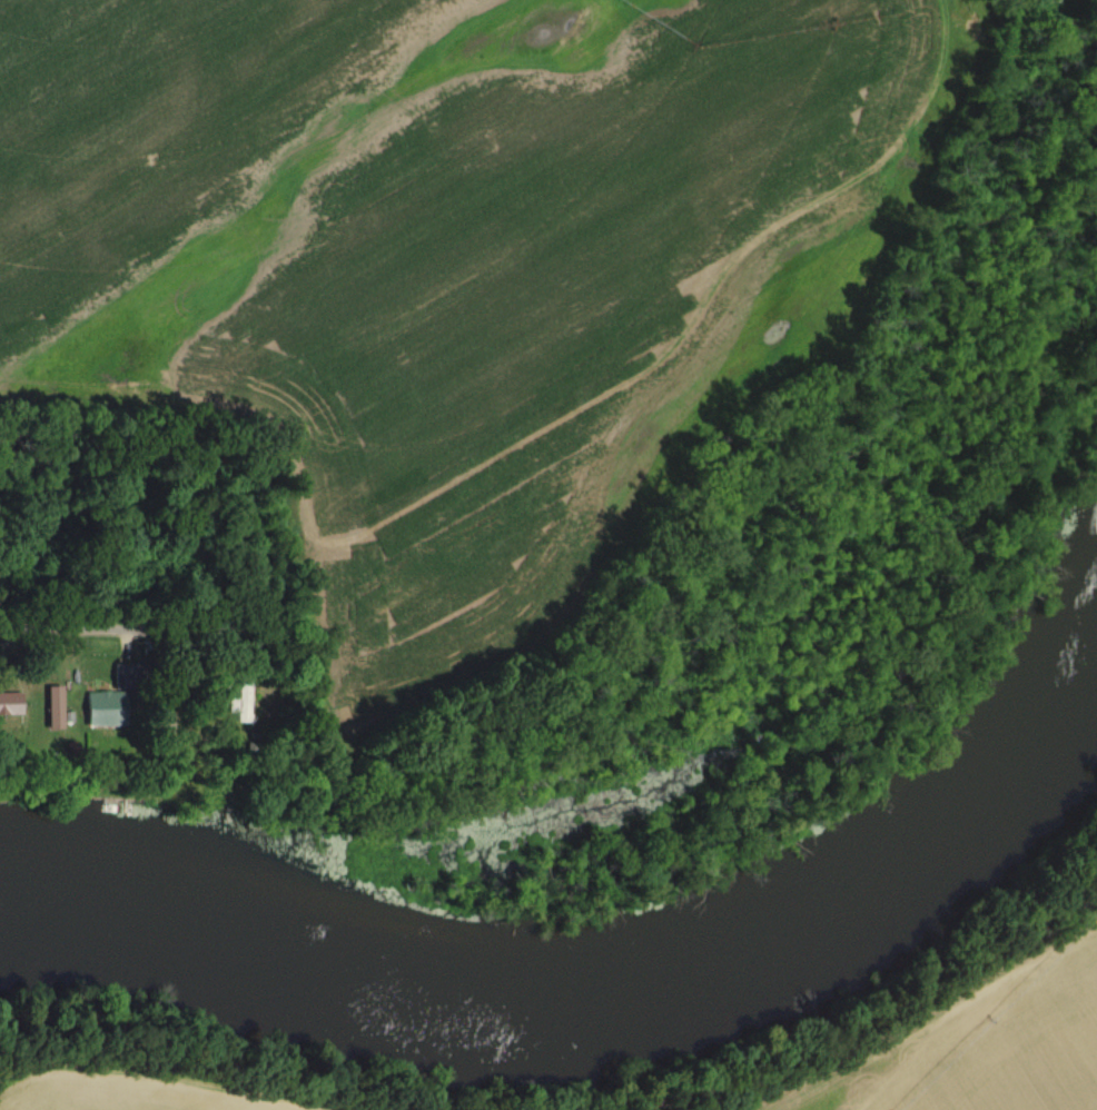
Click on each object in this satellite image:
road: (66, 624)
building: (6, 655)
building: (116, 695)
building: (240, 701)
building: (10, 704)
river: (595, 995)

